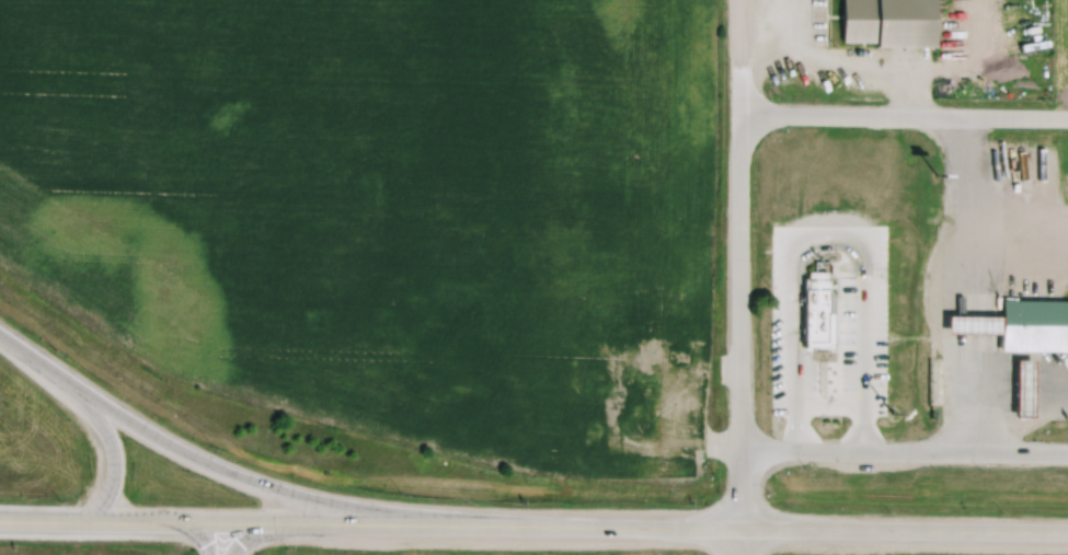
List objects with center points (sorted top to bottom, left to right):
building: (883, 20)
road: (744, 32)
building: (1041, 82)
building: (1022, 84)
road: (906, 115)
road: (740, 294)
building: (811, 305)
road: (866, 308)
building: (1031, 320)
road: (793, 339)
building: (654, 393)
road: (95, 408)
road: (903, 450)
road: (221, 469)
road: (112, 521)
road: (645, 525)
road: (221, 539)
road: (738, 541)

